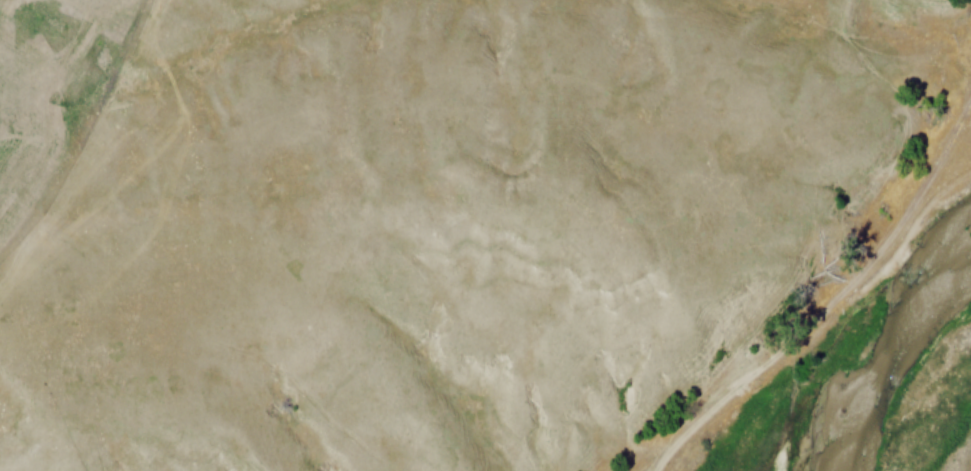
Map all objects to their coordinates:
river: (888, 357)

